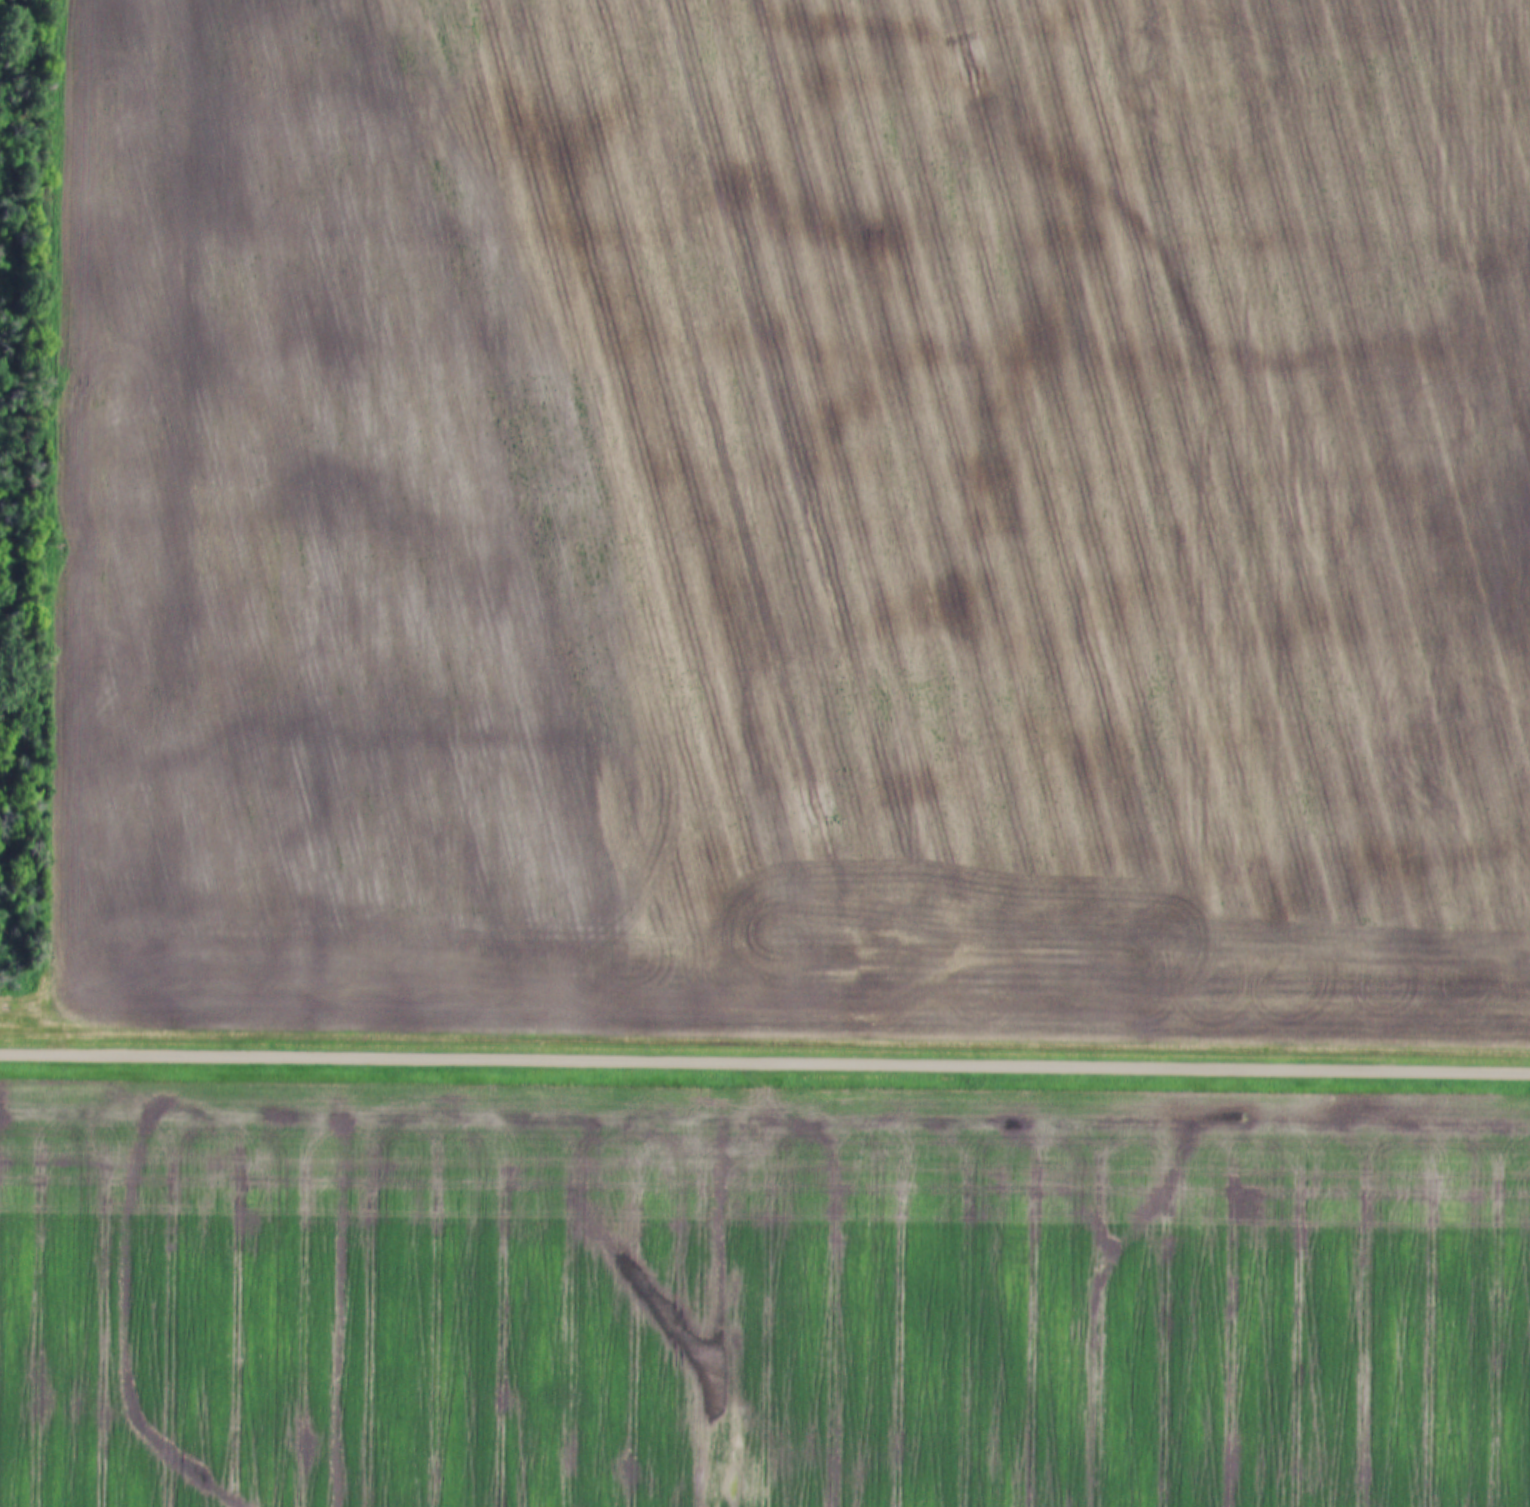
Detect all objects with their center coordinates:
road: (765, 1063)

